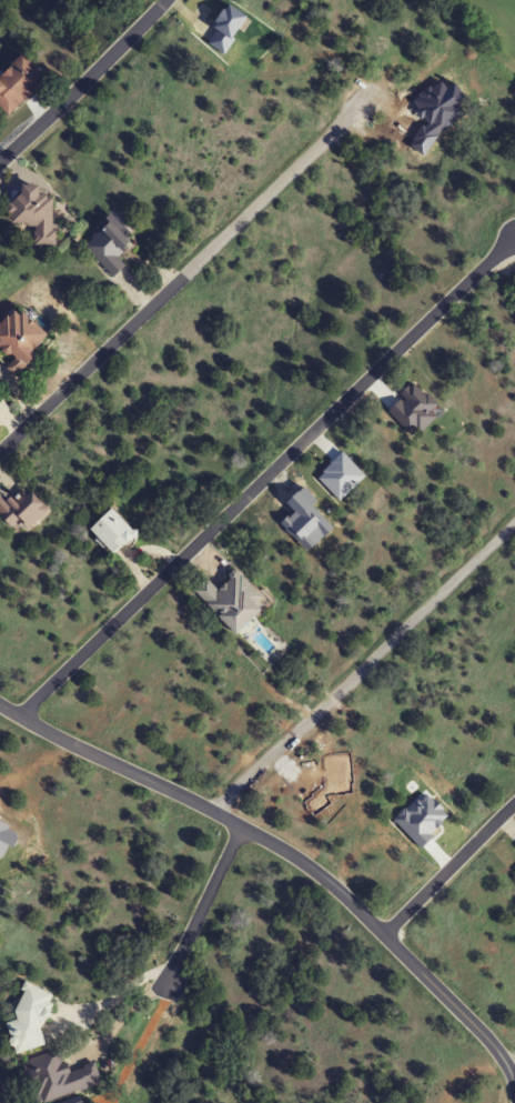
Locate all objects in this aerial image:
park: (488, 28)
road: (84, 81)
building: (18, 82)
building: (36, 212)
building: (109, 248)
road: (184, 272)
building: (20, 340)
road: (265, 474)
building: (21, 511)
building: (113, 532)
building: (232, 601)
road: (362, 665)
building: (509, 829)
road: (291, 854)
road: (446, 866)
road: (202, 904)
building: (30, 1019)
road: (511, 1065)
building: (60, 1076)

